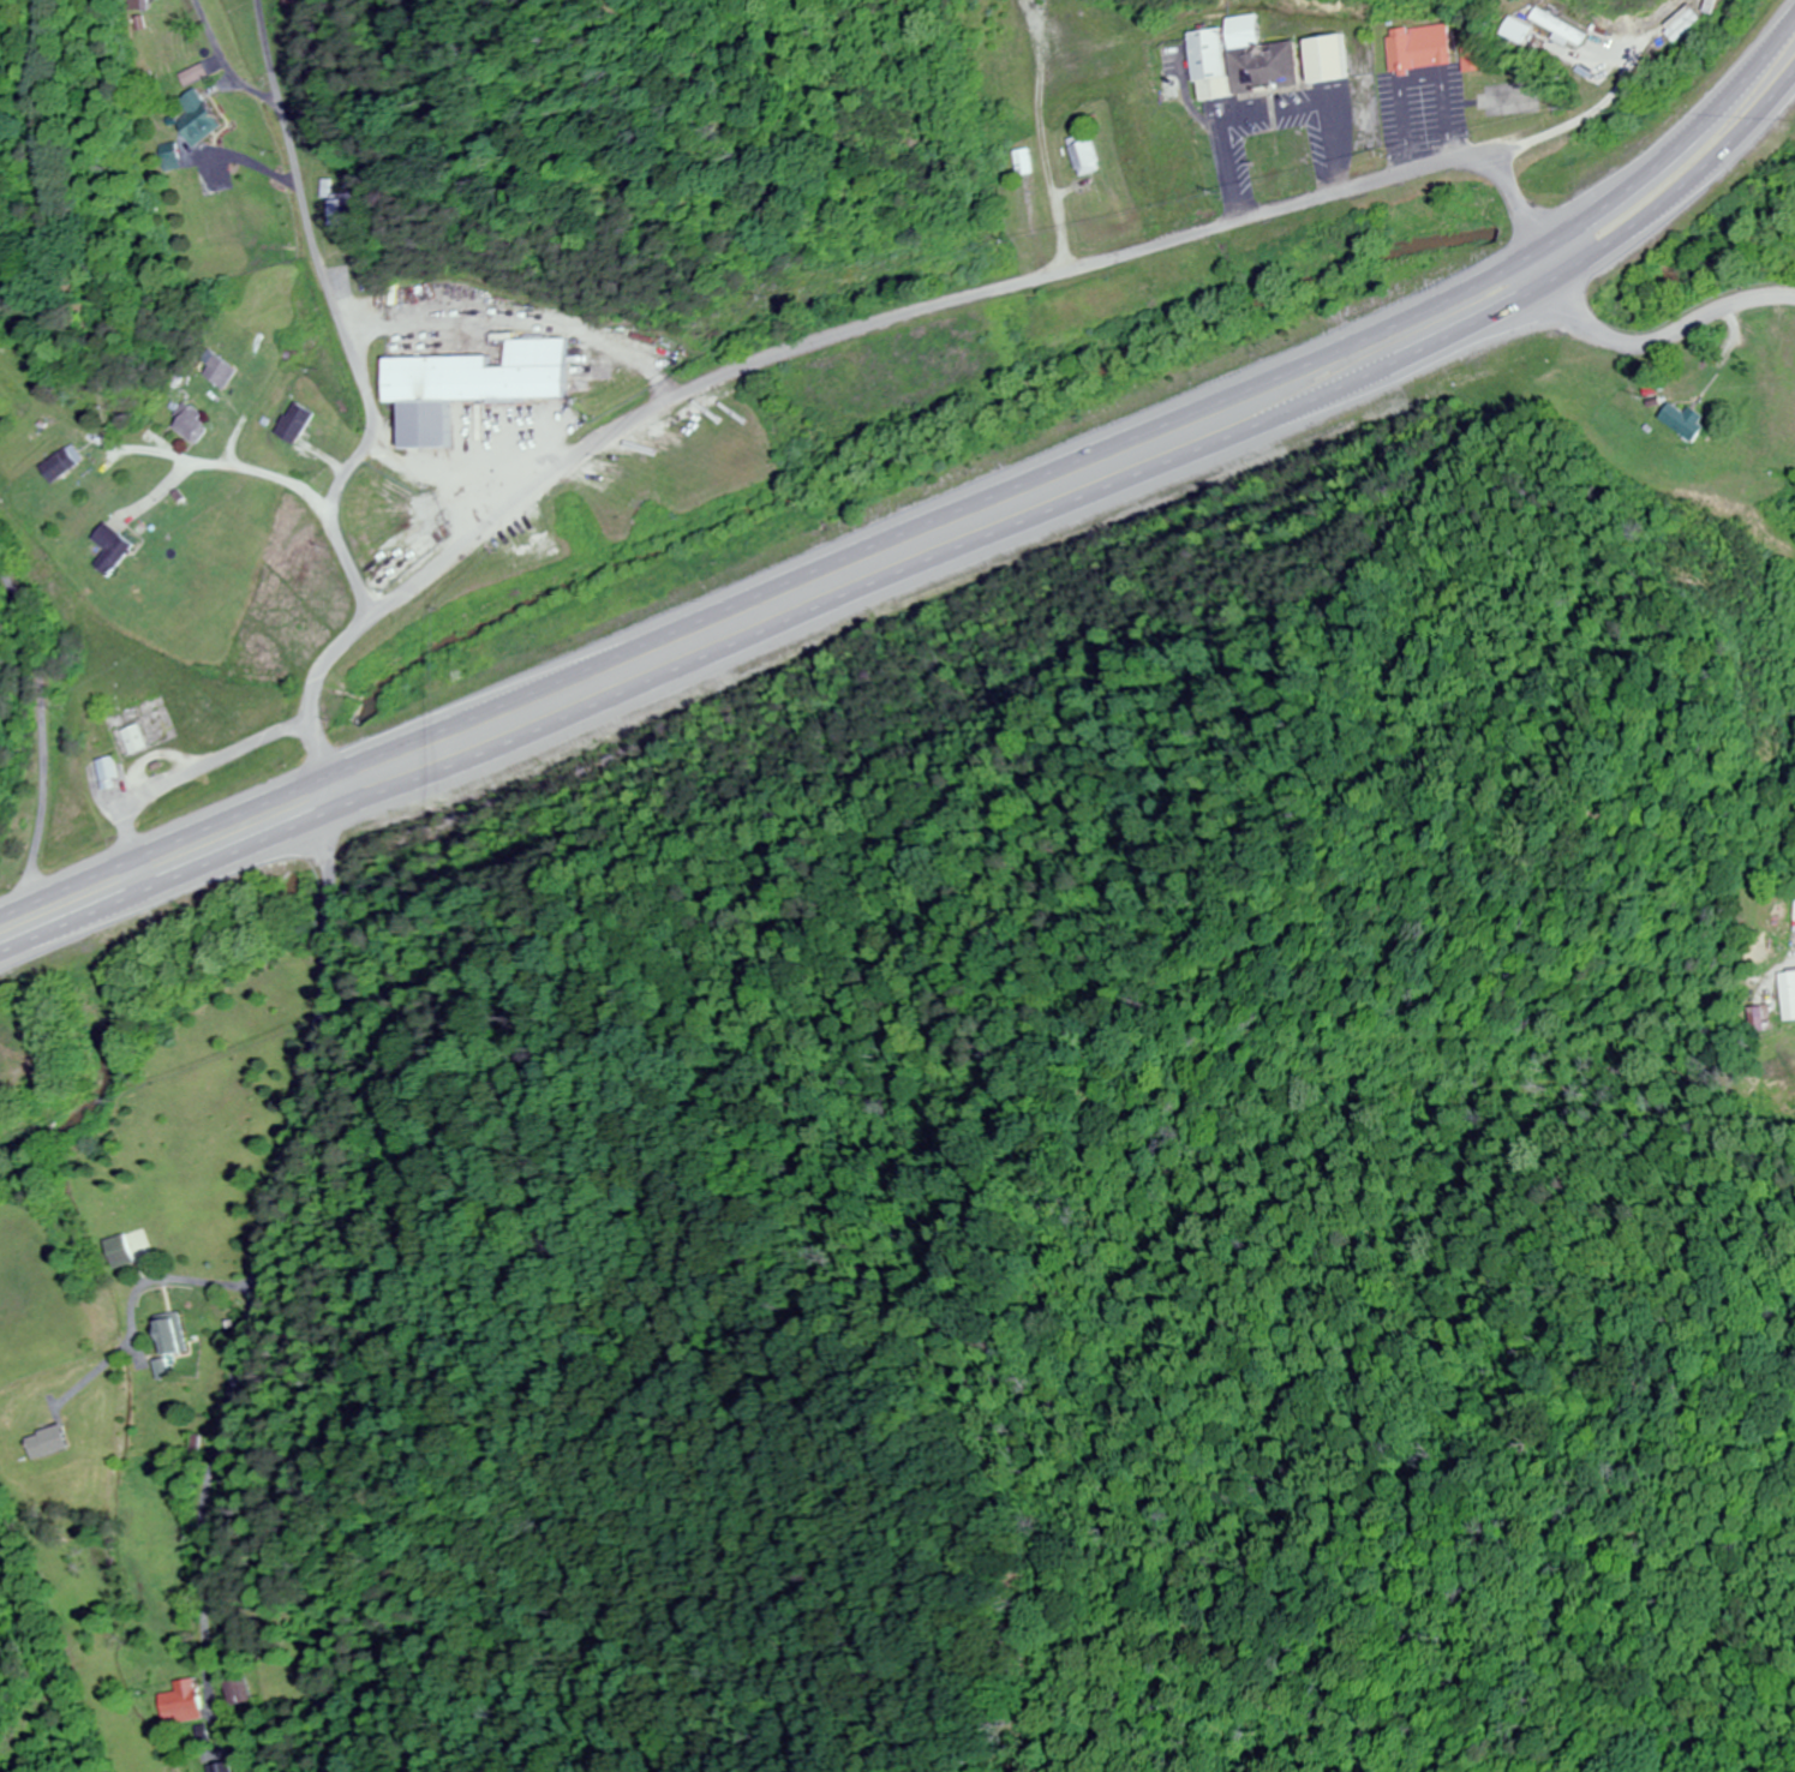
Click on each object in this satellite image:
building: (303, 1)
building: (142, 5)
building: (1510, 32)
building: (1414, 49)
building: (1256, 60)
building: (1318, 61)
building: (1205, 66)
building: (202, 119)
building: (1093, 158)
building: (170, 161)
building: (1028, 162)
building: (347, 215)
road: (309, 221)
road: (838, 339)
road: (1646, 346)
building: (225, 371)
building: (479, 388)
building: (1680, 421)
building: (300, 423)
building: (193, 424)
building: (61, 466)
road: (933, 516)
road: (336, 528)
building: (114, 549)
road: (926, 568)
building: (100, 724)
building: (137, 740)
road: (202, 767)
building: (109, 770)
building: (1793, 912)
building: (1785, 996)
building: (1757, 1019)
road: (262, 1233)
building: (122, 1251)
building: (172, 1334)
building: (160, 1370)
building: (50, 1442)
building: (244, 1693)
building: (183, 1702)
building: (216, 1768)

